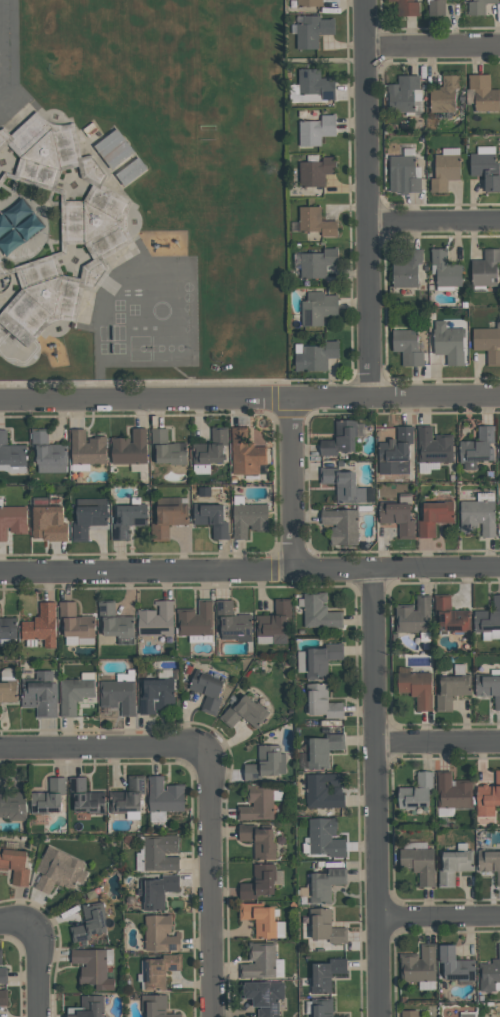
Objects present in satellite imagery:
building: (308, 2)
building: (478, 6)
building: (405, 7)
building: (435, 7)
building: (312, 30)
road: (433, 45)
building: (315, 84)
building: (402, 93)
building: (443, 94)
building: (482, 94)
building: (316, 130)
building: (114, 148)
building: (445, 170)
building: (485, 170)
building: (131, 171)
building: (315, 171)
building: (402, 174)
road: (368, 198)
road: (434, 220)
building: (315, 222)
building: (93, 229)
building: (317, 263)
building: (406, 268)
building: (485, 268)
building: (444, 270)
building: (317, 308)
building: (448, 343)
building: (487, 344)
building: (406, 347)
building: (315, 357)
road: (249, 398)
building: (339, 438)
building: (433, 446)
building: (210, 447)
building: (129, 448)
building: (477, 448)
building: (86, 449)
building: (167, 449)
building: (11, 452)
building: (394, 452)
building: (245, 453)
building: (48, 454)
road: (291, 485)
building: (342, 485)
building: (41, 501)
building: (87, 516)
building: (167, 517)
building: (433, 517)
building: (396, 518)
building: (477, 518)
building: (210, 519)
building: (248, 519)
building: (12, 520)
building: (127, 520)
building: (48, 524)
building: (340, 526)
building: (499, 529)
road: (395, 570)
road: (146, 573)
building: (318, 611)
building: (413, 616)
building: (449, 616)
building: (487, 617)
building: (195, 620)
building: (230, 620)
building: (273, 620)
building: (156, 621)
building: (75, 622)
building: (114, 622)
building: (41, 626)
building: (6, 627)
building: (321, 659)
building: (415, 688)
building: (488, 688)
building: (206, 690)
building: (450, 691)
building: (8, 692)
building: (40, 694)
building: (74, 694)
building: (154, 695)
building: (118, 696)
building: (321, 702)
building: (243, 713)
road: (437, 740)
road: (104, 747)
building: (322, 751)
building: (265, 763)
building: (323, 790)
building: (452, 791)
building: (415, 792)
road: (375, 794)
building: (163, 796)
building: (48, 797)
building: (126, 797)
building: (488, 797)
building: (85, 798)
building: (11, 804)
building: (257, 804)
building: (324, 838)
building: (257, 841)
building: (159, 853)
building: (488, 863)
building: (14, 864)
building: (418, 864)
building: (453, 866)
building: (57, 870)
road: (209, 881)
building: (258, 882)
building: (324, 885)
building: (156, 892)
road: (439, 918)
building: (259, 919)
building: (89, 922)
road: (18, 926)
building: (325, 927)
building: (160, 934)
building: (1, 956)
building: (259, 961)
building: (454, 964)
building: (418, 965)
building: (91, 968)
road: (36, 971)
building: (159, 971)
building: (490, 973)
building: (325, 975)
building: (3, 976)
building: (262, 996)
building: (3, 997)
building: (154, 1006)
building: (87, 1007)
building: (320, 1007)
building: (409, 1014)
building: (467, 1015)

